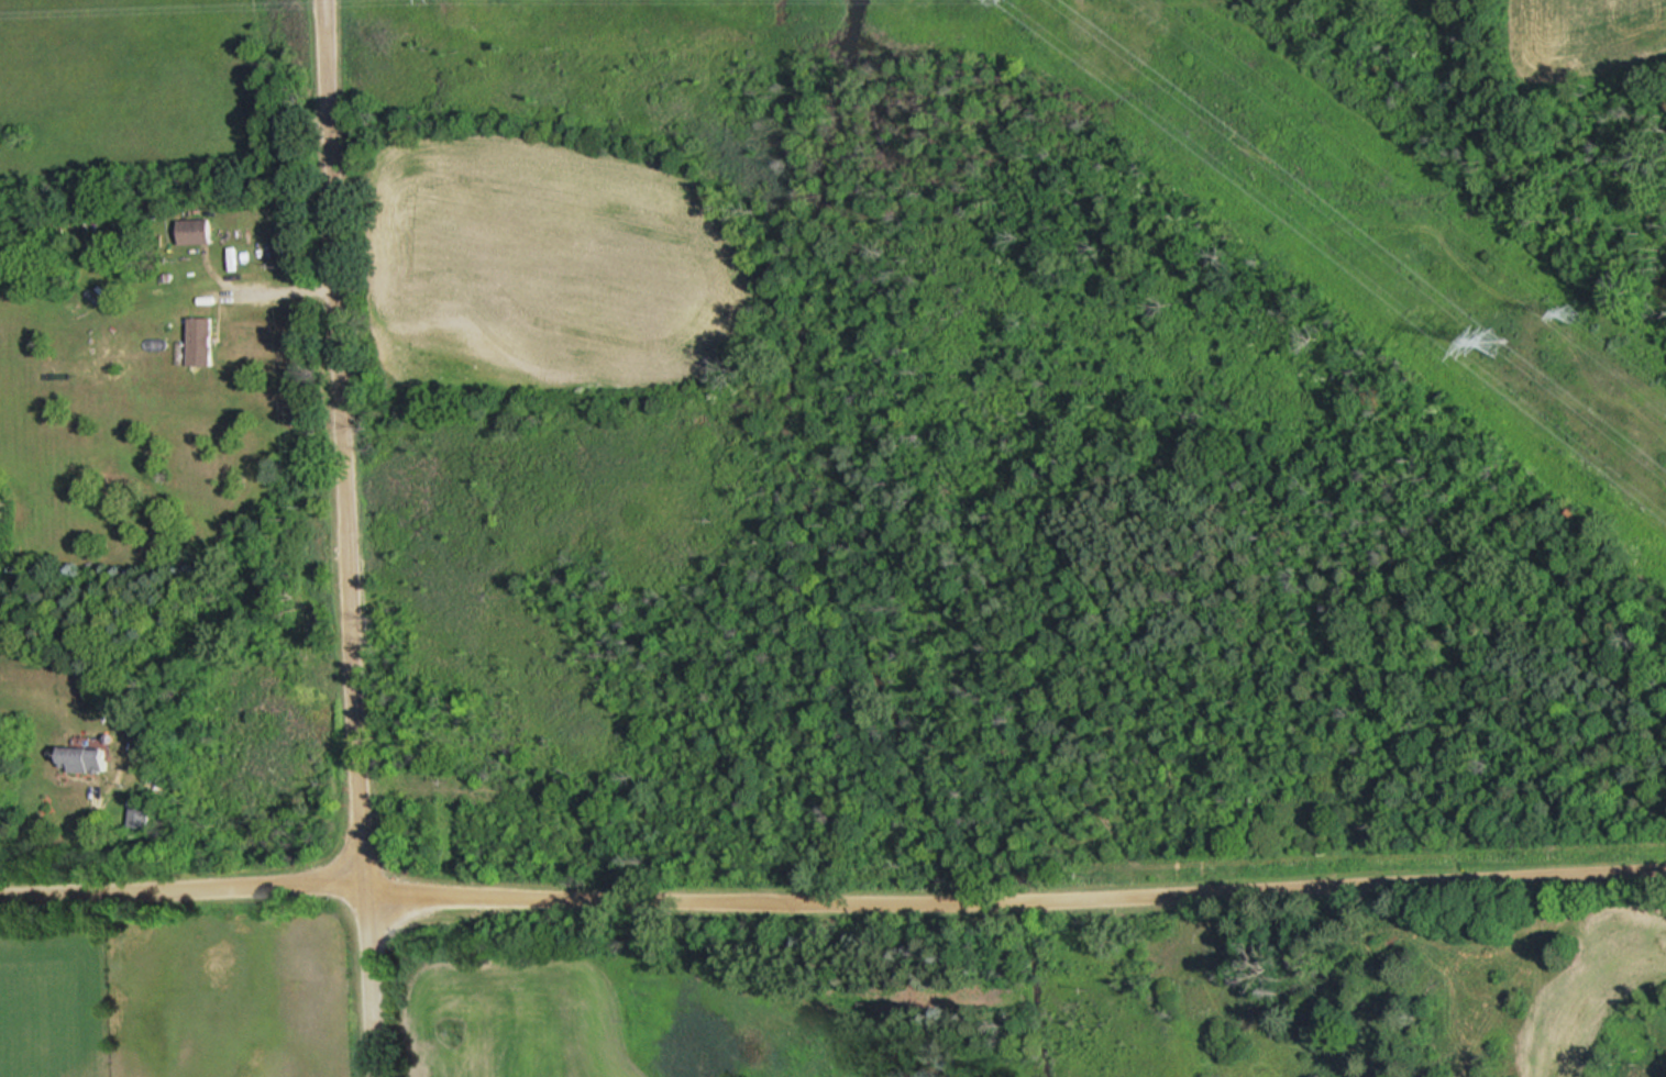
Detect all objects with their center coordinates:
building: (194, 231)
road: (268, 290)
power tower: (1565, 311)
power tower: (1501, 335)
building: (199, 341)
road: (354, 537)
building: (81, 756)
road: (186, 884)
road: (1018, 890)

